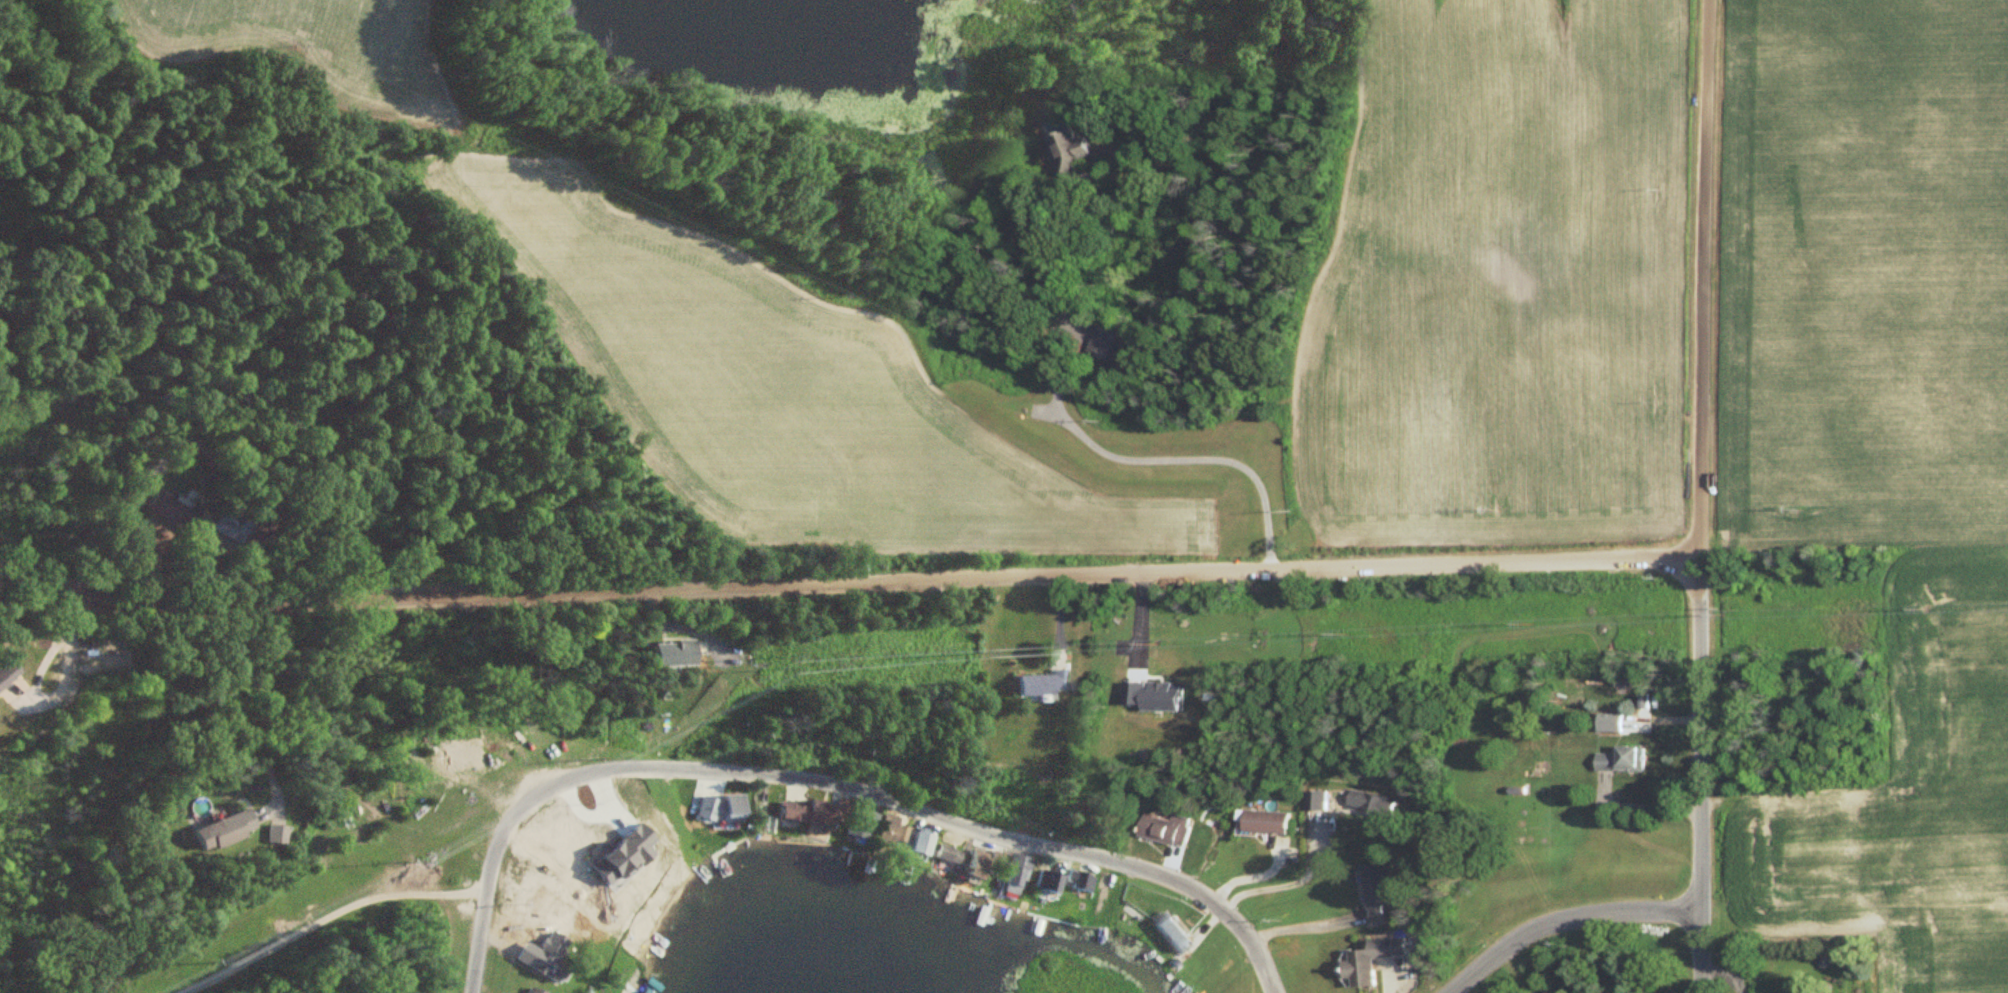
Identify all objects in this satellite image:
building: (1067, 149)
building: (1104, 343)
road: (1098, 448)
road: (1702, 496)
building: (182, 521)
road: (846, 583)
road: (677, 627)
building: (666, 654)
building: (8, 679)
building: (1042, 684)
road: (35, 686)
road: (261, 702)
building: (1609, 724)
building: (1621, 761)
road: (830, 785)
building: (1370, 804)
building: (722, 808)
building: (804, 815)
building: (1263, 823)
building: (858, 826)
building: (1164, 830)
building: (225, 831)
building: (885, 833)
building: (276, 834)
building: (918, 845)
building: (945, 855)
building: (980, 865)
building: (598, 871)
road: (1291, 872)
building: (1013, 877)
building: (1078, 882)
building: (1045, 885)
building: (1374, 891)
road: (1299, 915)
road: (324, 916)
road: (1565, 921)
building: (1170, 933)
building: (540, 956)
building: (1371, 961)
building: (529, 991)

